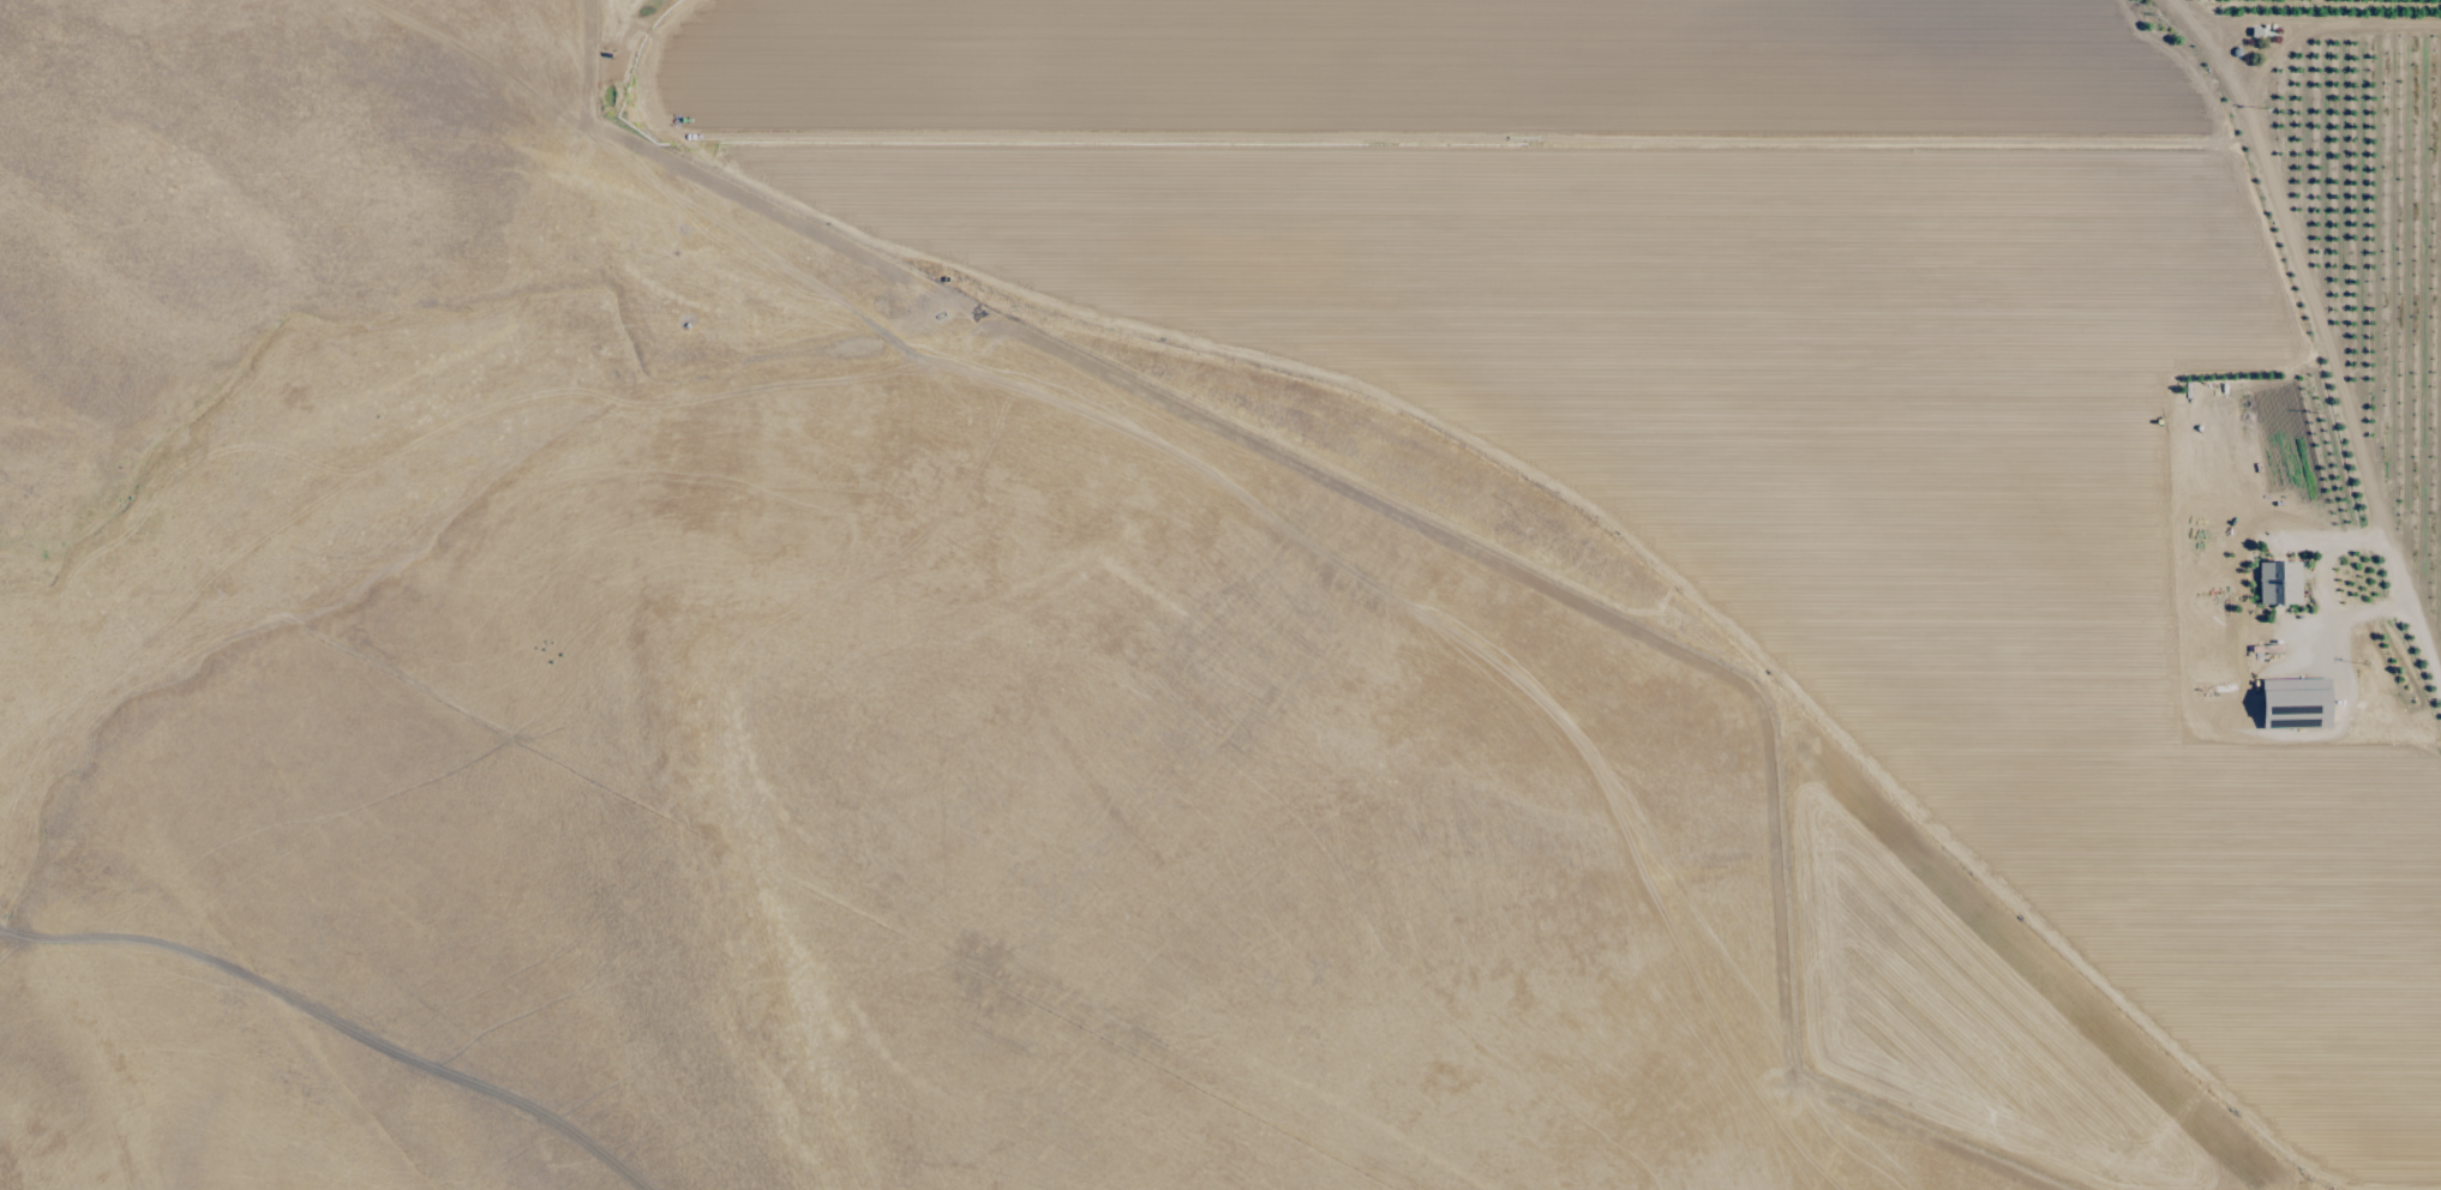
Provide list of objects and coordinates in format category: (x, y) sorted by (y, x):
building: (2278, 582)
crop: (1172, 609)
road: (2419, 635)

